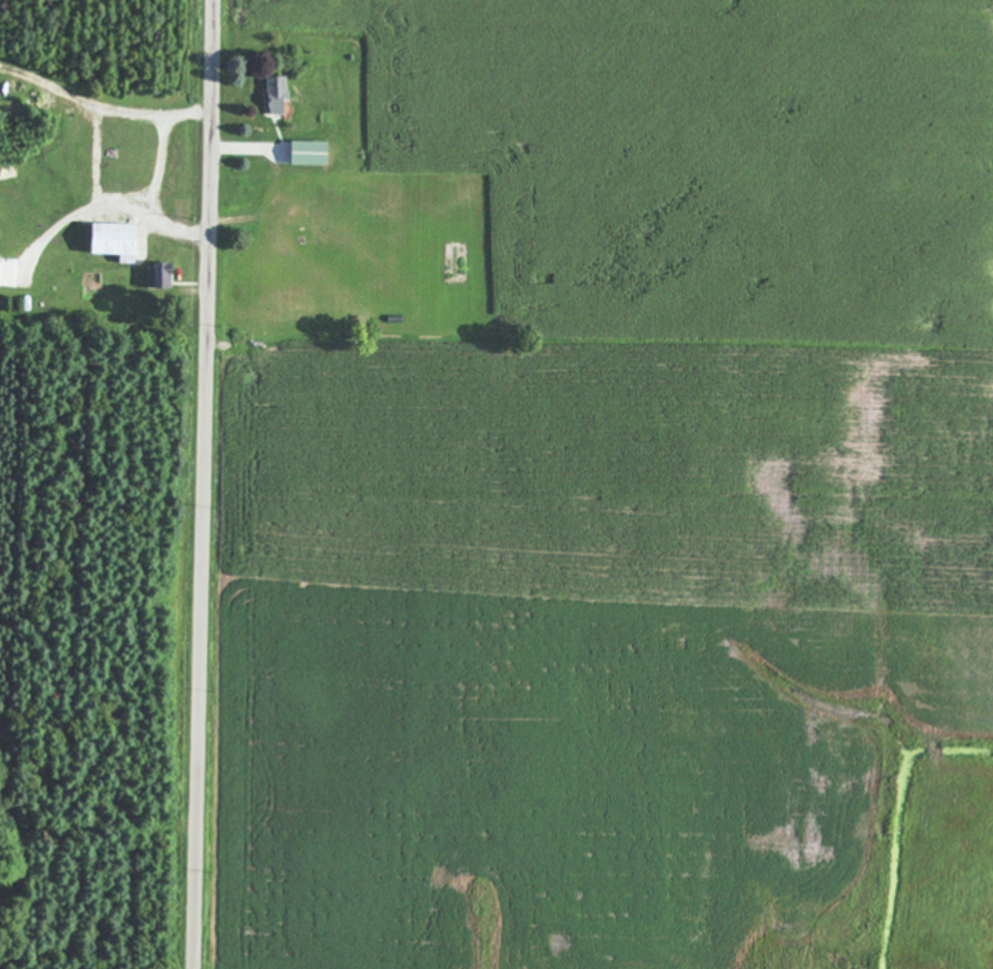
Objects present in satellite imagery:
building: (279, 93)
building: (312, 151)
road: (113, 206)
building: (116, 240)
building: (0, 270)
building: (159, 275)
road: (204, 484)

